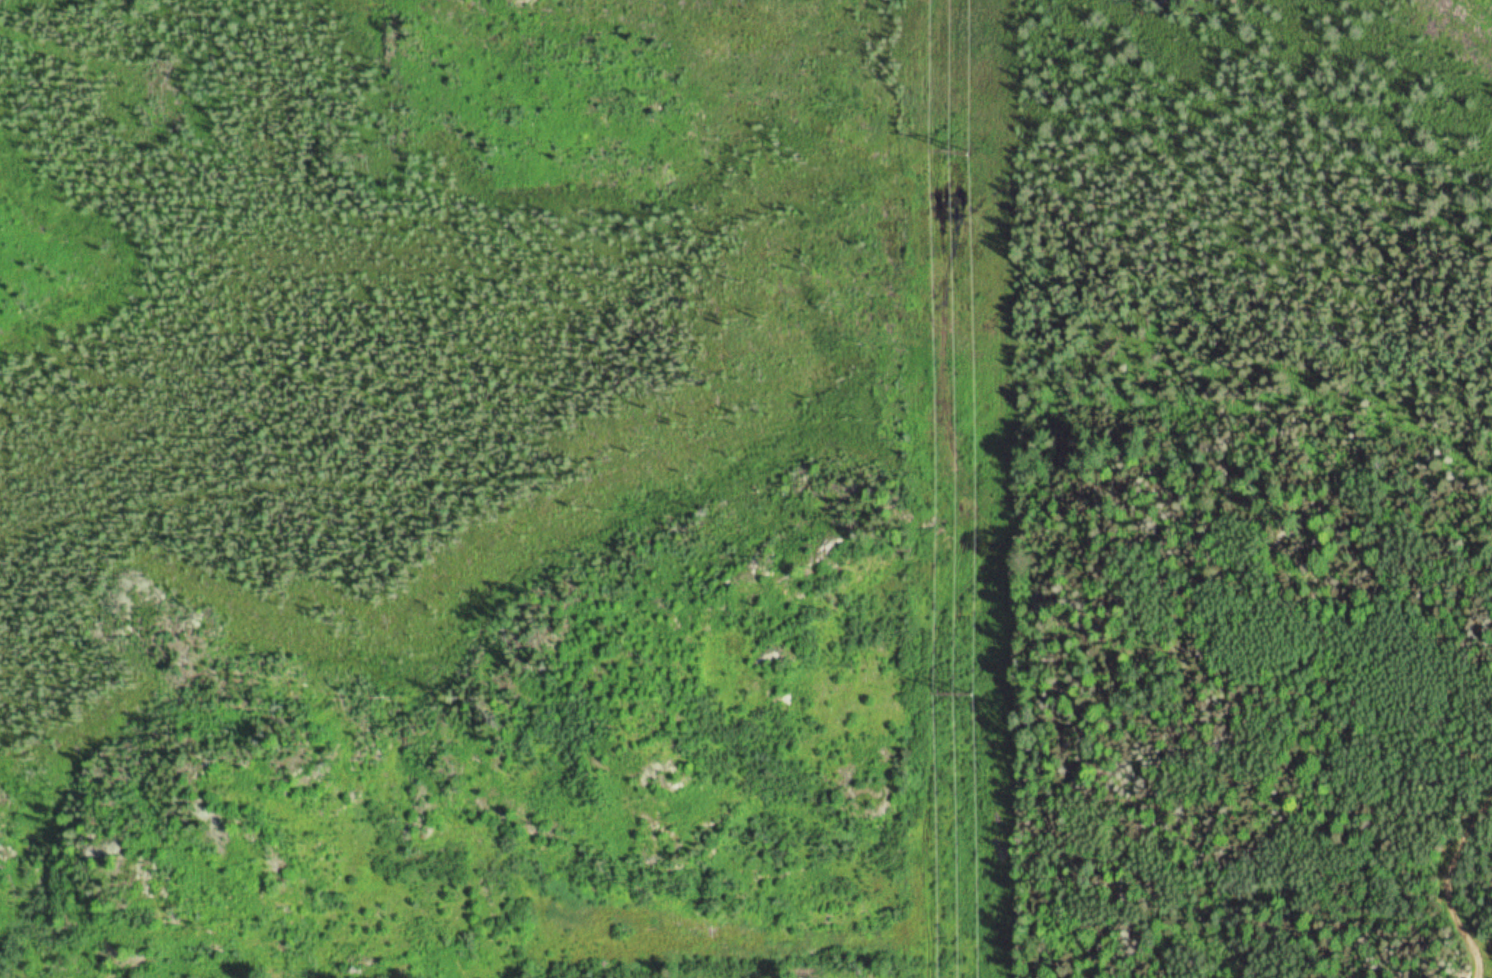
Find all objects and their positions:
power tower: (960, 149)
power tower: (961, 692)
road: (1450, 882)

